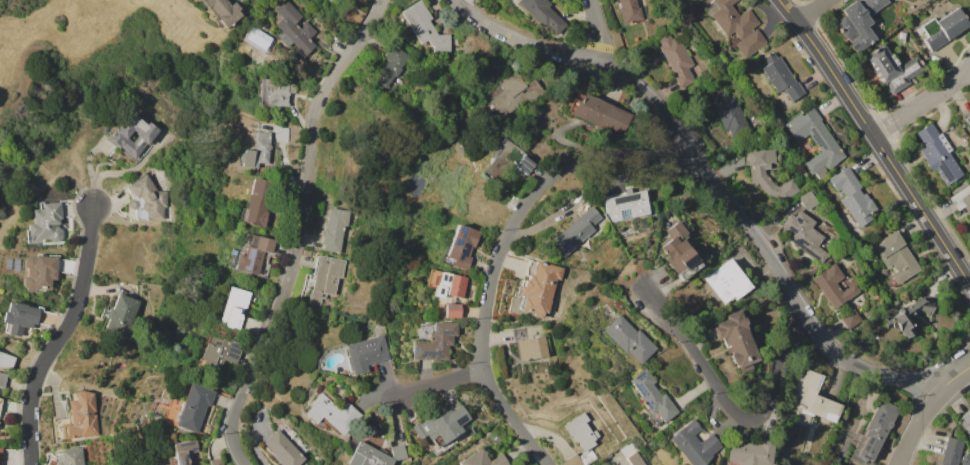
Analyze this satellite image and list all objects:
building: (873, 5)
road: (809, 10)
building: (223, 11)
building: (630, 11)
building: (544, 14)
building: (738, 26)
building: (855, 26)
building: (426, 27)
building: (942, 28)
building: (293, 29)
road: (598, 34)
building: (457, 41)
building: (677, 59)
building: (392, 65)
building: (891, 67)
building: (780, 76)
building: (275, 94)
building: (515, 94)
road: (920, 103)
building: (728, 111)
building: (600, 113)
building: (968, 118)
building: (279, 133)
building: (117, 138)
building: (815, 141)
road: (876, 142)
building: (257, 151)
building: (938, 153)
road: (30, 154)
building: (509, 163)
building: (758, 176)
road: (710, 178)
road: (44, 185)
building: (853, 197)
building: (962, 198)
building: (147, 199)
building: (807, 200)
building: (259, 204)
building: (628, 205)
road: (531, 207)
building: (46, 222)
building: (335, 228)
road: (300, 229)
building: (575, 233)
building: (804, 234)
building: (462, 246)
building: (699, 247)
building: (679, 254)
building: (254, 255)
building: (896, 257)
building: (39, 273)
building: (327, 278)
building: (728, 281)
building: (446, 284)
building: (893, 284)
building: (833, 285)
building: (538, 287)
building: (618, 303)
building: (453, 310)
building: (239, 311)
building: (121, 315)
building: (910, 316)
building: (20, 317)
building: (850, 318)
road: (60, 336)
building: (628, 338)
building: (738, 340)
building: (435, 342)
building: (529, 345)
building: (219, 351)
building: (366, 353)
building: (6, 360)
building: (2, 379)
road: (434, 385)
building: (653, 398)
building: (815, 398)
building: (0, 401)
building: (194, 407)
road: (729, 407)
road: (925, 408)
building: (160, 410)
building: (331, 412)
building: (156, 416)
building: (78, 418)
road: (511, 418)
building: (965, 421)
building: (442, 426)
building: (874, 431)
building: (581, 432)
building: (168, 440)
building: (694, 444)
building: (283, 449)
building: (951, 451)
building: (184, 452)
building: (631, 453)
building: (748, 453)
building: (0, 455)
building: (375, 455)
building: (70, 456)
building: (587, 456)
building: (484, 459)
building: (835, 459)
building: (966, 459)
building: (573, 460)
building: (216, 461)

